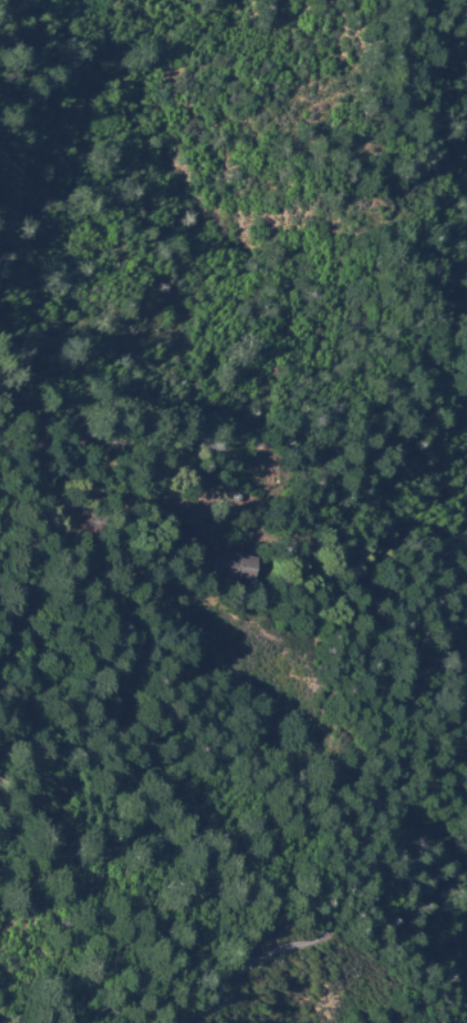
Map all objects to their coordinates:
building: (234, 565)

